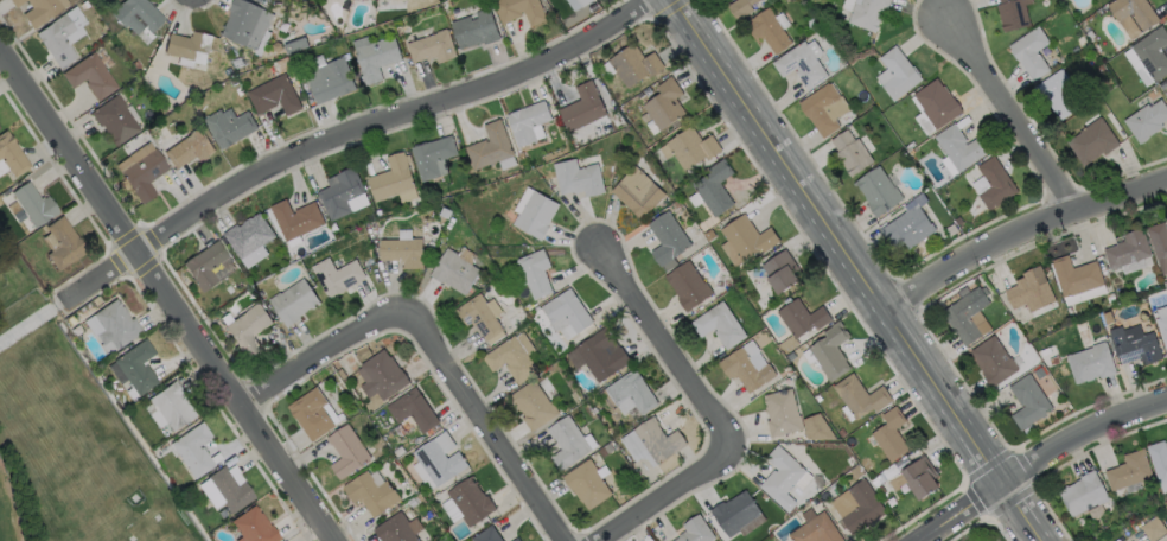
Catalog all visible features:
building: (12, 0)
road: (224, 1)
building: (580, 5)
road: (172, 7)
building: (739, 7)
building: (519, 9)
building: (40, 11)
road: (185, 11)
building: (1133, 12)
building: (866, 13)
building: (1010, 13)
building: (138, 15)
building: (248, 24)
building: (474, 28)
building: (766, 30)
building: (60, 36)
building: (190, 46)
building: (433, 47)
building: (1028, 52)
building: (1150, 52)
building: (377, 57)
building: (632, 64)
building: (799, 64)
building: (897, 72)
building: (89, 76)
building: (330, 79)
building: (1057, 94)
building: (274, 95)
building: (935, 102)
building: (663, 103)
building: (581, 107)
building: (820, 109)
road: (1009, 109)
building: (113, 119)
building: (1144, 120)
building: (525, 121)
building: (923, 122)
building: (230, 127)
road: (355, 127)
building: (1090, 141)
building: (489, 145)
building: (958, 146)
building: (690, 147)
building: (189, 148)
building: (849, 152)
building: (11, 154)
building: (431, 155)
building: (141, 170)
building: (390, 178)
building: (576, 178)
building: (993, 182)
building: (713, 187)
building: (876, 190)
building: (339, 192)
building: (636, 192)
building: (31, 204)
building: (534, 215)
building: (294, 218)
building: (331, 227)
building: (906, 228)
road: (1019, 234)
building: (247, 236)
building: (746, 236)
building: (665, 238)
building: (62, 243)
building: (1158, 243)
building: (1125, 248)
building: (402, 250)
building: (203, 265)
building: (453, 270)
building: (779, 270)
road: (856, 272)
building: (534, 273)
building: (336, 275)
building: (1073, 275)
building: (685, 285)
building: (1028, 289)
road: (166, 294)
building: (293, 300)
building: (566, 311)
building: (963, 314)
building: (478, 316)
building: (801, 317)
building: (114, 323)
building: (718, 325)
building: (247, 327)
building: (1162, 330)
road: (432, 339)
building: (1133, 346)
building: (830, 351)
building: (600, 354)
building: (510, 359)
building: (991, 361)
building: (1089, 363)
building: (135, 365)
building: (744, 369)
building: (380, 375)
building: (630, 390)
building: (860, 396)
building: (1026, 401)
building: (170, 405)
building: (533, 405)
building: (412, 409)
road: (710, 410)
building: (311, 413)
building: (779, 413)
building: (889, 434)
building: (657, 439)
building: (566, 443)
building: (191, 448)
building: (345, 450)
building: (438, 458)
building: (1158, 459)
road: (1034, 463)
building: (1127, 470)
building: (919, 476)
building: (780, 477)
building: (586, 483)
building: (229, 490)
building: (370, 492)
building: (1082, 492)
building: (468, 499)
building: (861, 507)
park: (7, 510)
building: (734, 513)
building: (254, 527)
building: (1153, 528)
building: (394, 529)
building: (815, 529)
building: (694, 530)
building: (485, 534)
building: (514, 539)

